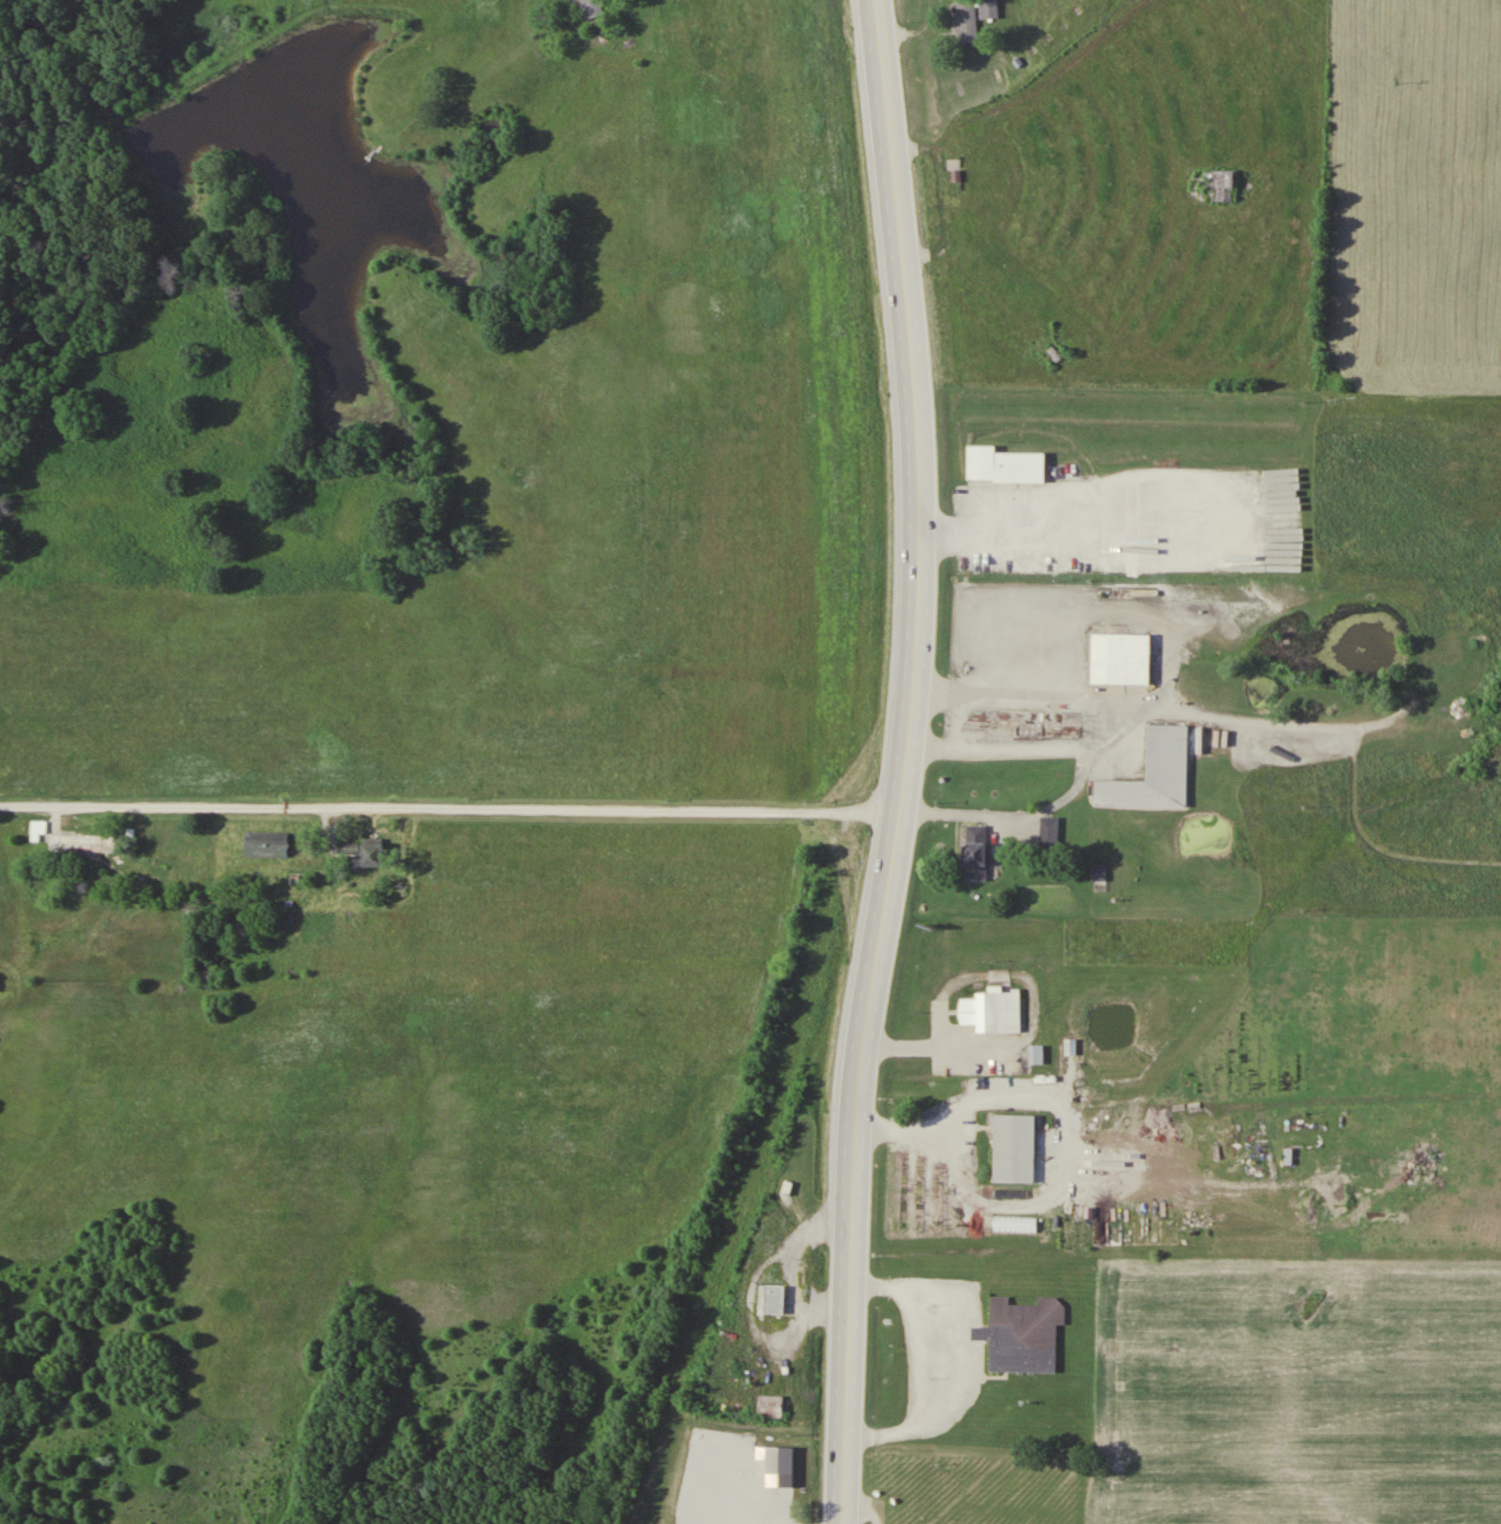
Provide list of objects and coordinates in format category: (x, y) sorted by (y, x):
building: (592, 8)
building: (989, 8)
building: (965, 20)
building: (1223, 185)
building: (1004, 464)
building: (1026, 639)
building: (1120, 658)
building: (1081, 661)
road: (905, 762)
building: (1154, 772)
road: (450, 808)
building: (37, 829)
building: (1050, 831)
building: (85, 841)
building: (268, 844)
building: (976, 851)
building: (373, 853)
building: (299, 879)
building: (996, 1006)
building: (1070, 1047)
building: (1036, 1054)
building: (1018, 1141)
building: (1288, 1155)
building: (776, 1300)
building: (1025, 1330)
building: (771, 1406)
building: (780, 1460)

